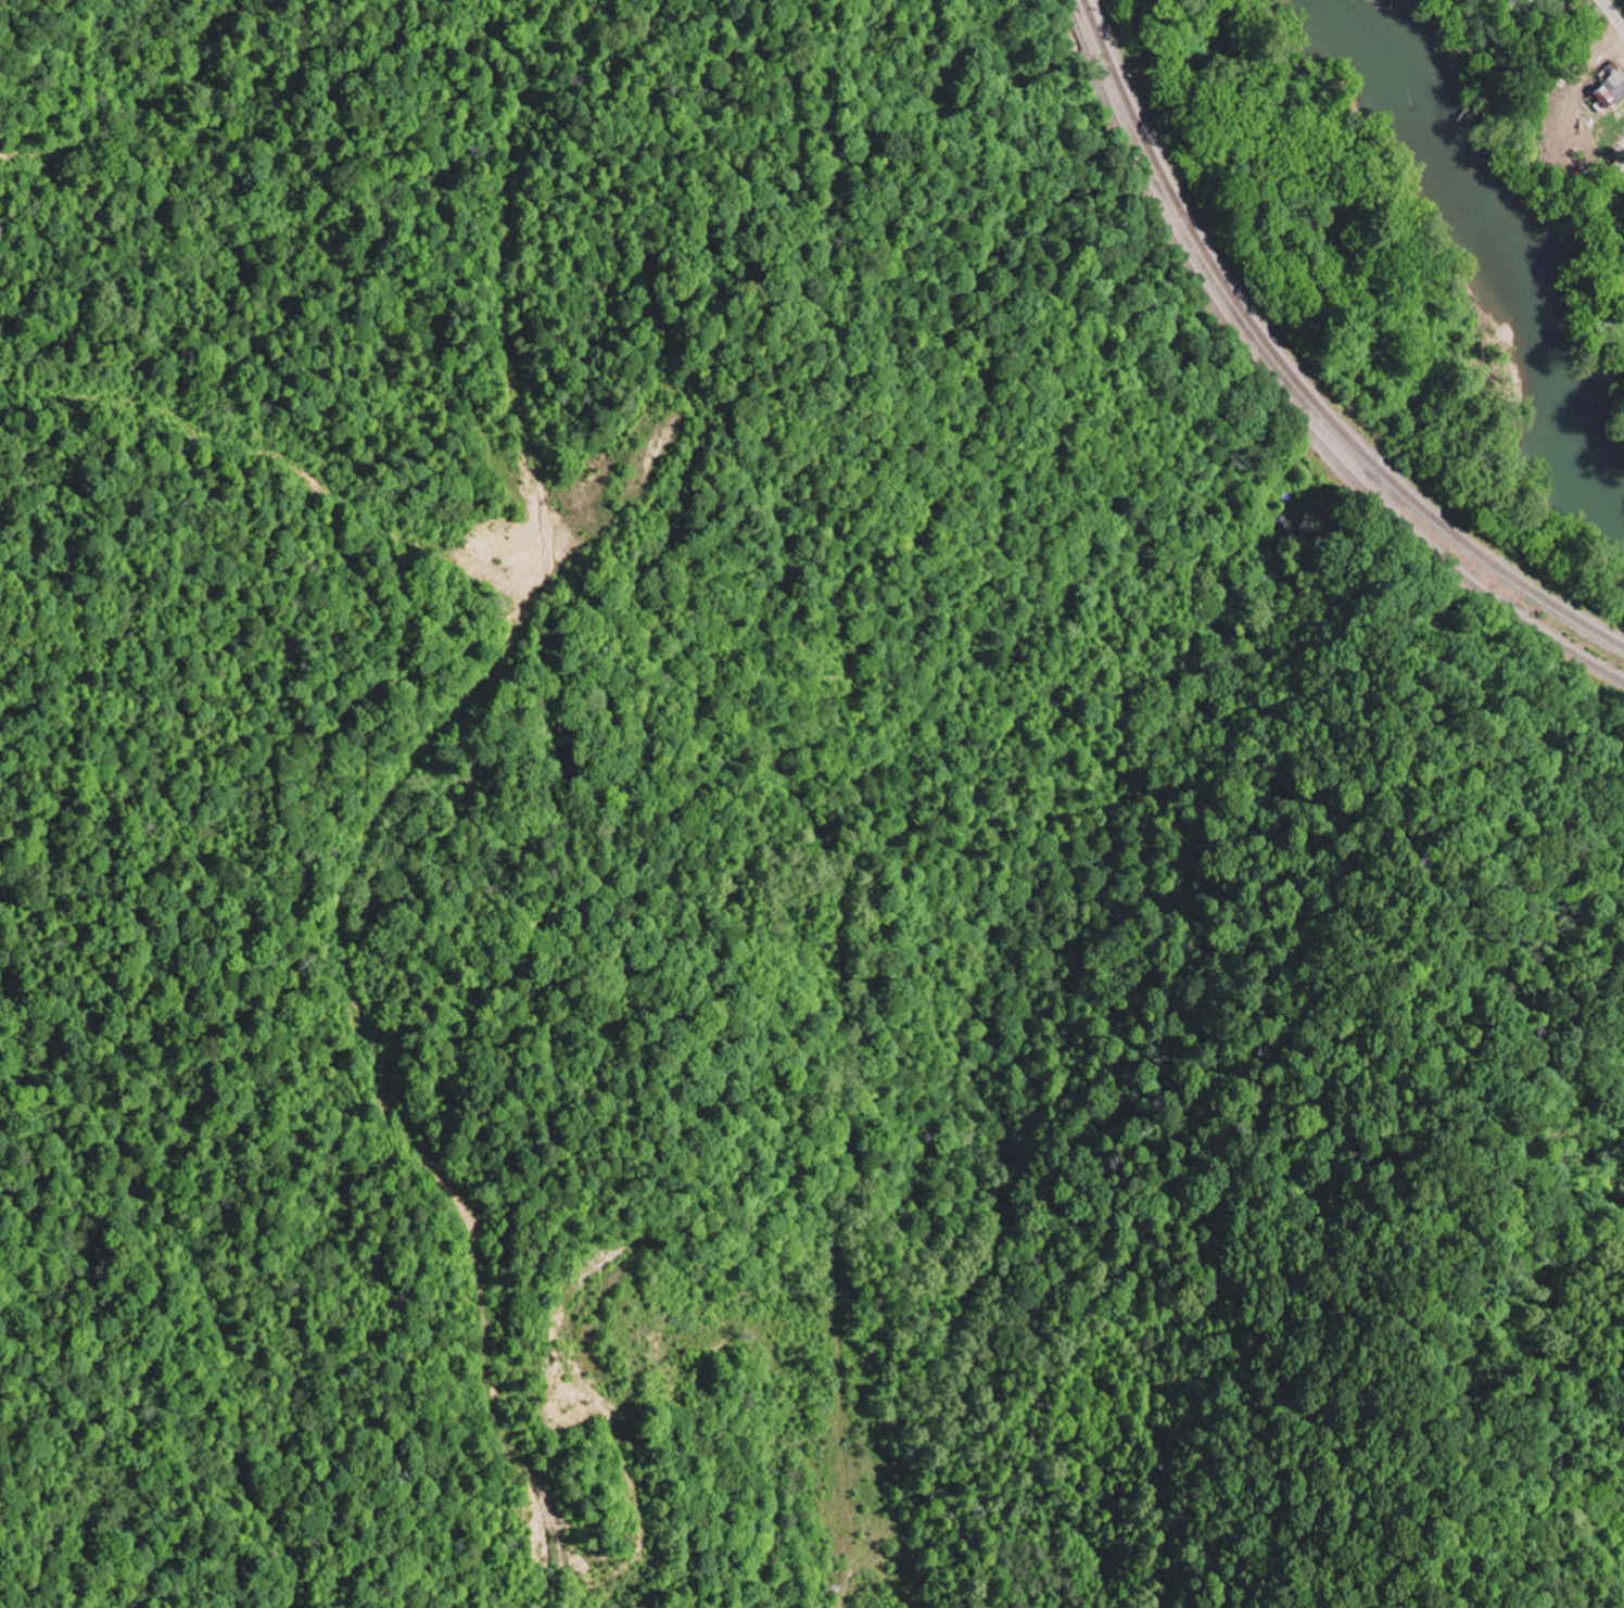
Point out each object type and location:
road: (1610, 15)
building: (1606, 92)
railway: (1141, 132)
road: (1622, 157)
river: (1502, 242)
railway: (1278, 395)
road: (279, 451)
railway: (1392, 480)
road: (347, 903)

